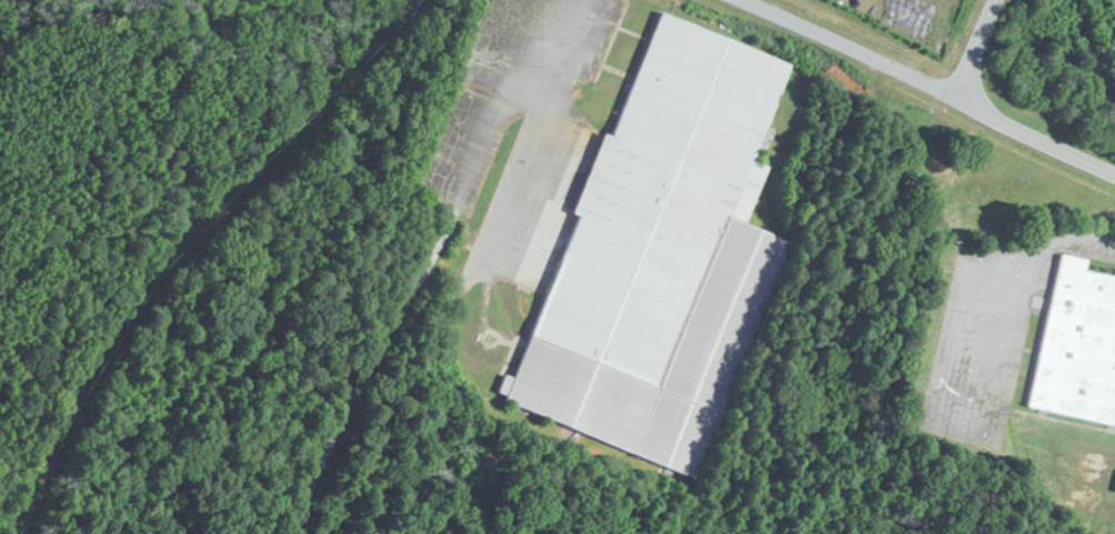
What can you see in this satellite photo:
road: (846, 49)
road: (976, 50)
road: (1035, 138)
road: (1067, 234)
building: (662, 259)
building: (1077, 346)
road: (375, 355)
road: (946, 429)

